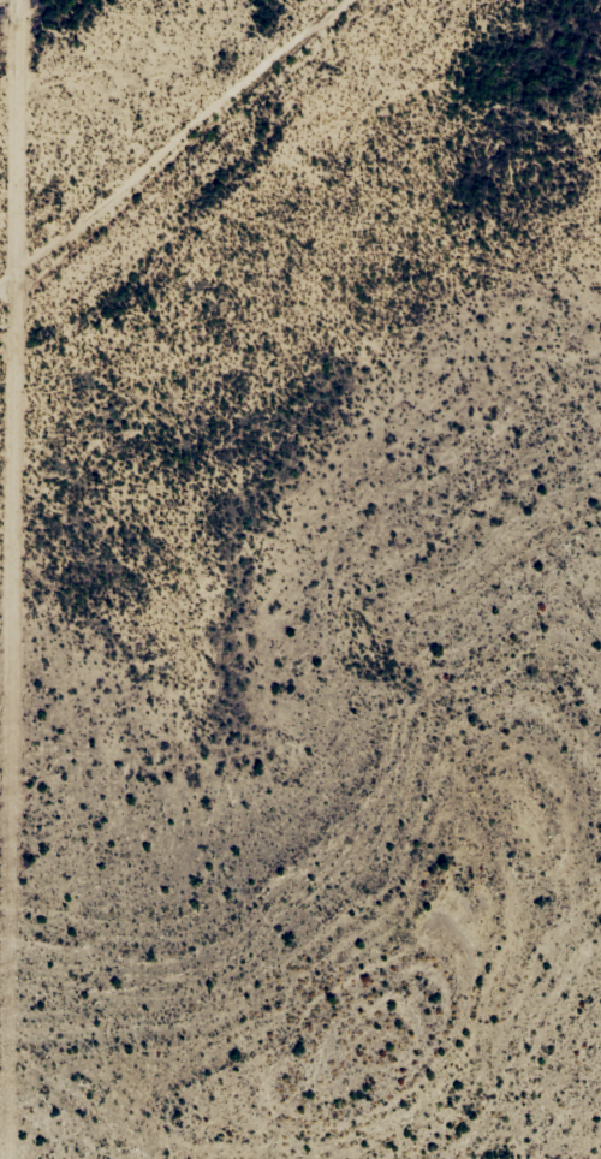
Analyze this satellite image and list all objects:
road: (160, 131)

